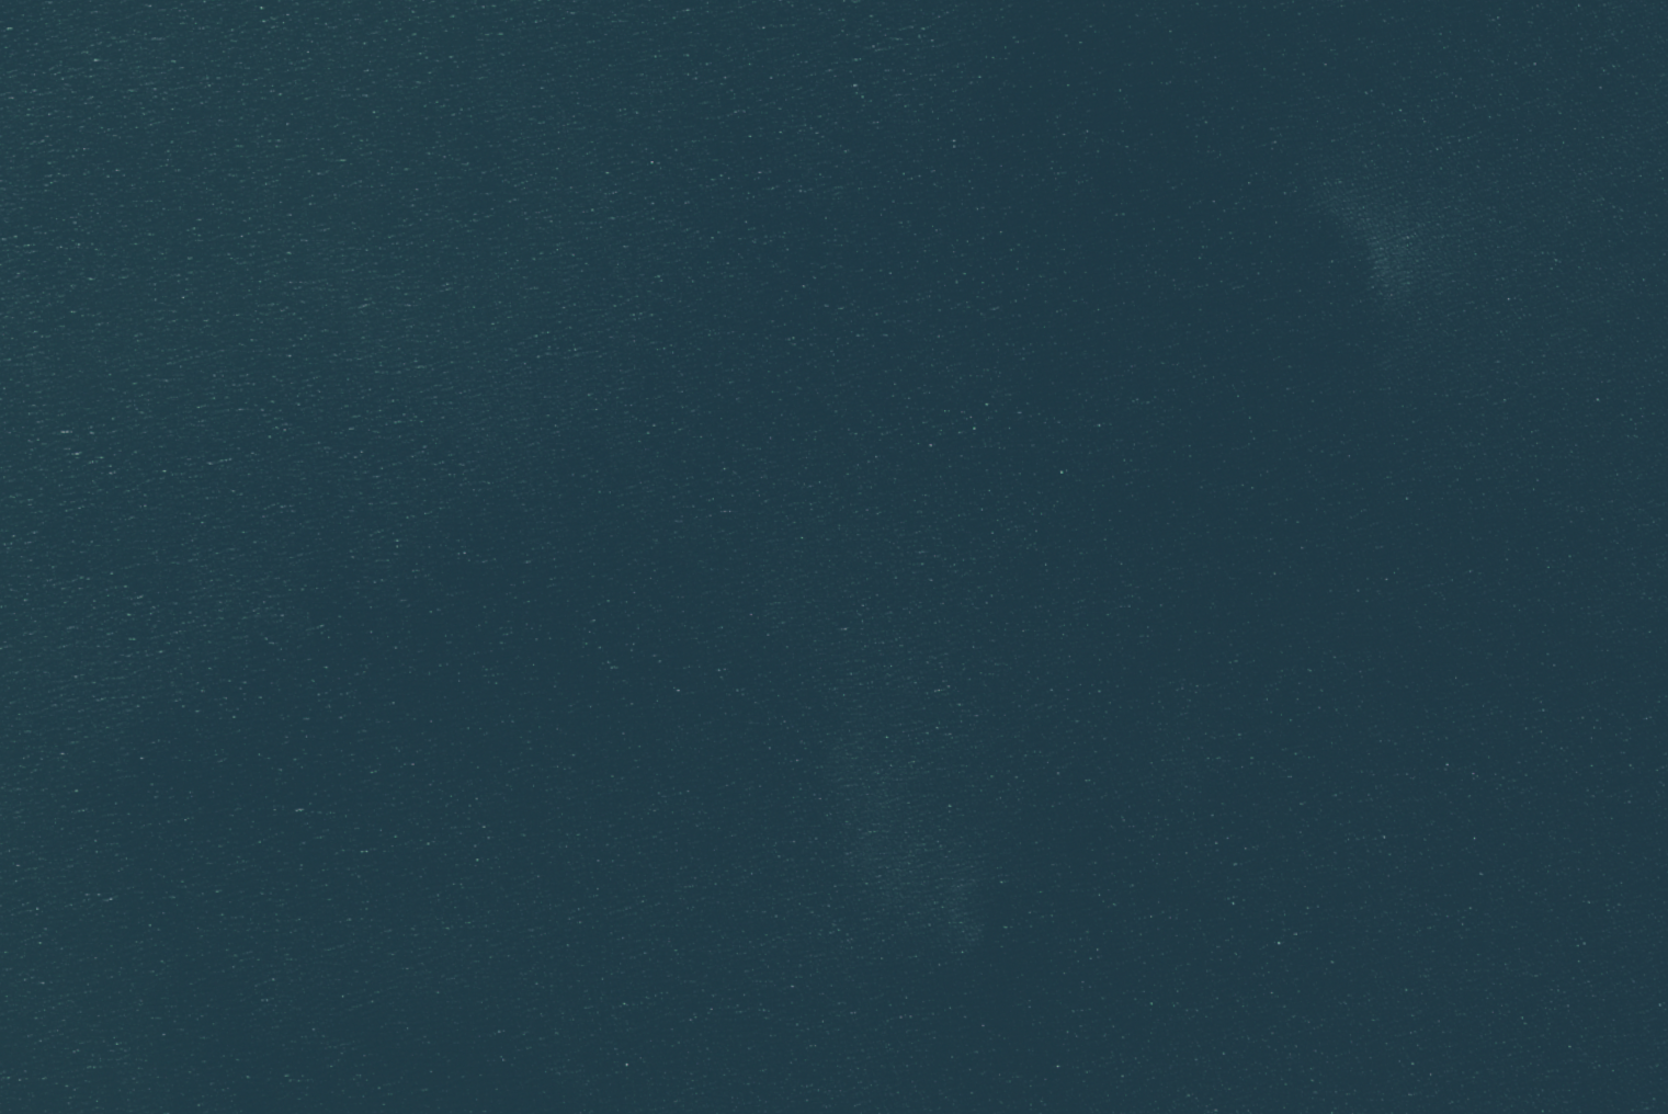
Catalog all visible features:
river: (1518, 91)

